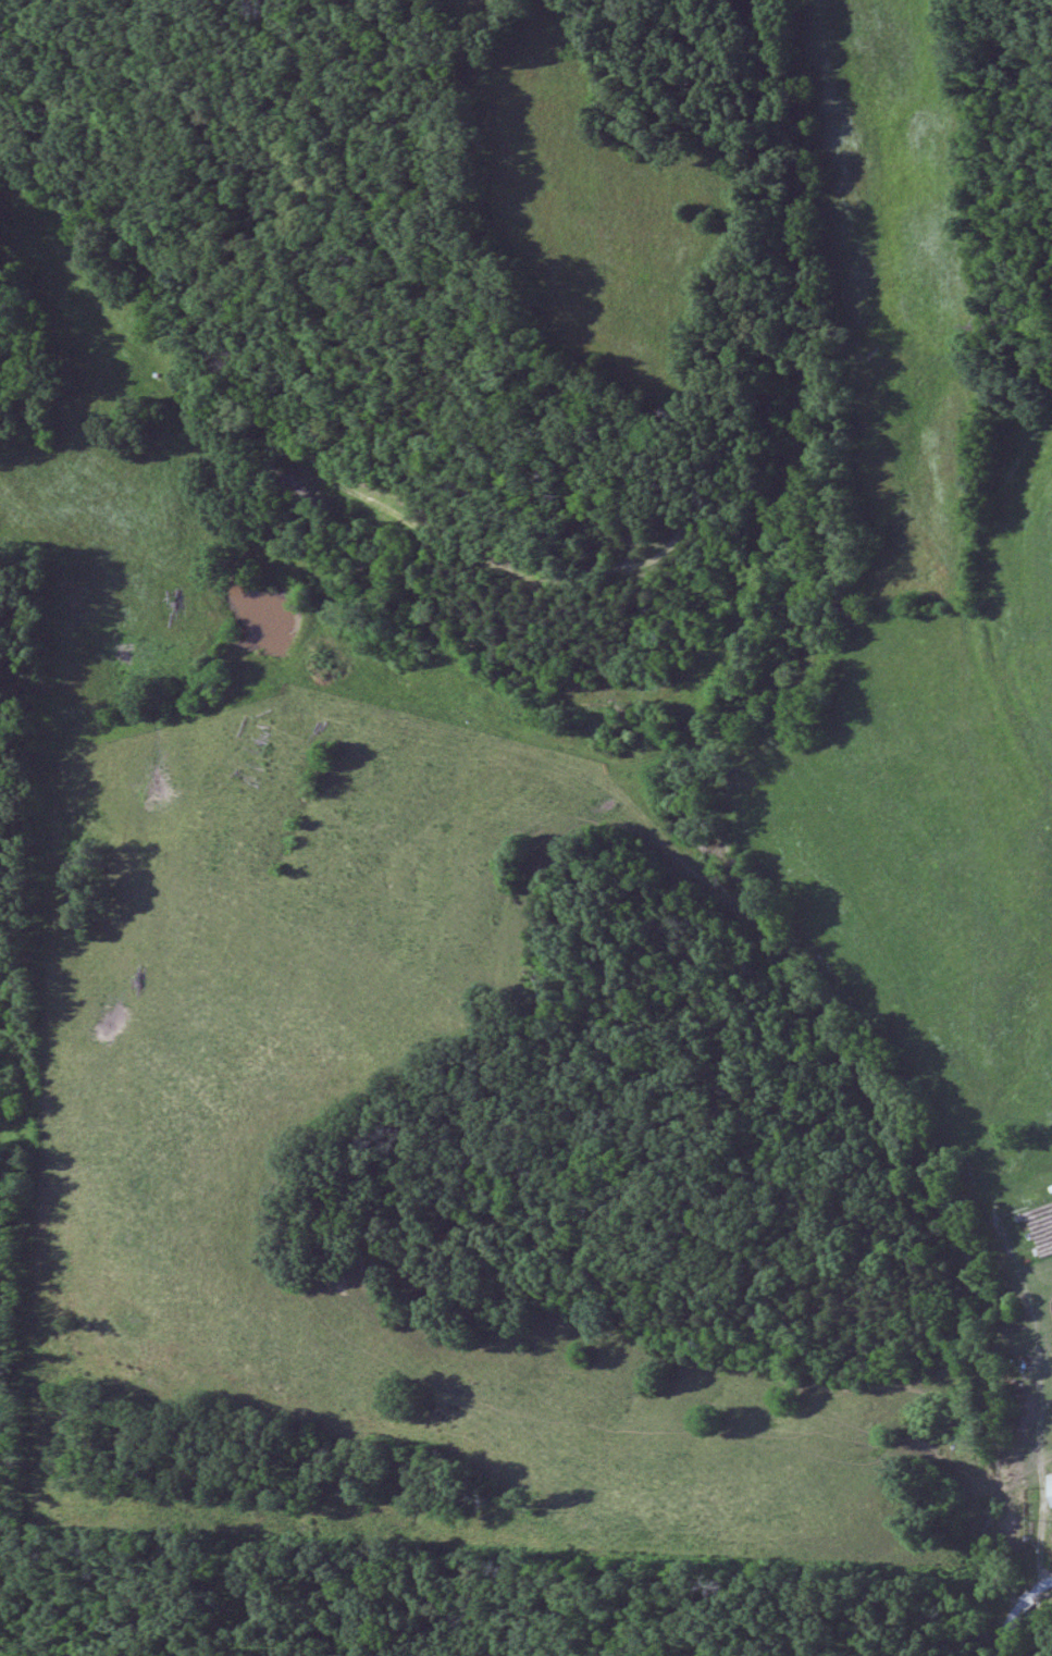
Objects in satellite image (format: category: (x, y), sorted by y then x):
building: (1051, 1480)
road: (1010, 1606)

